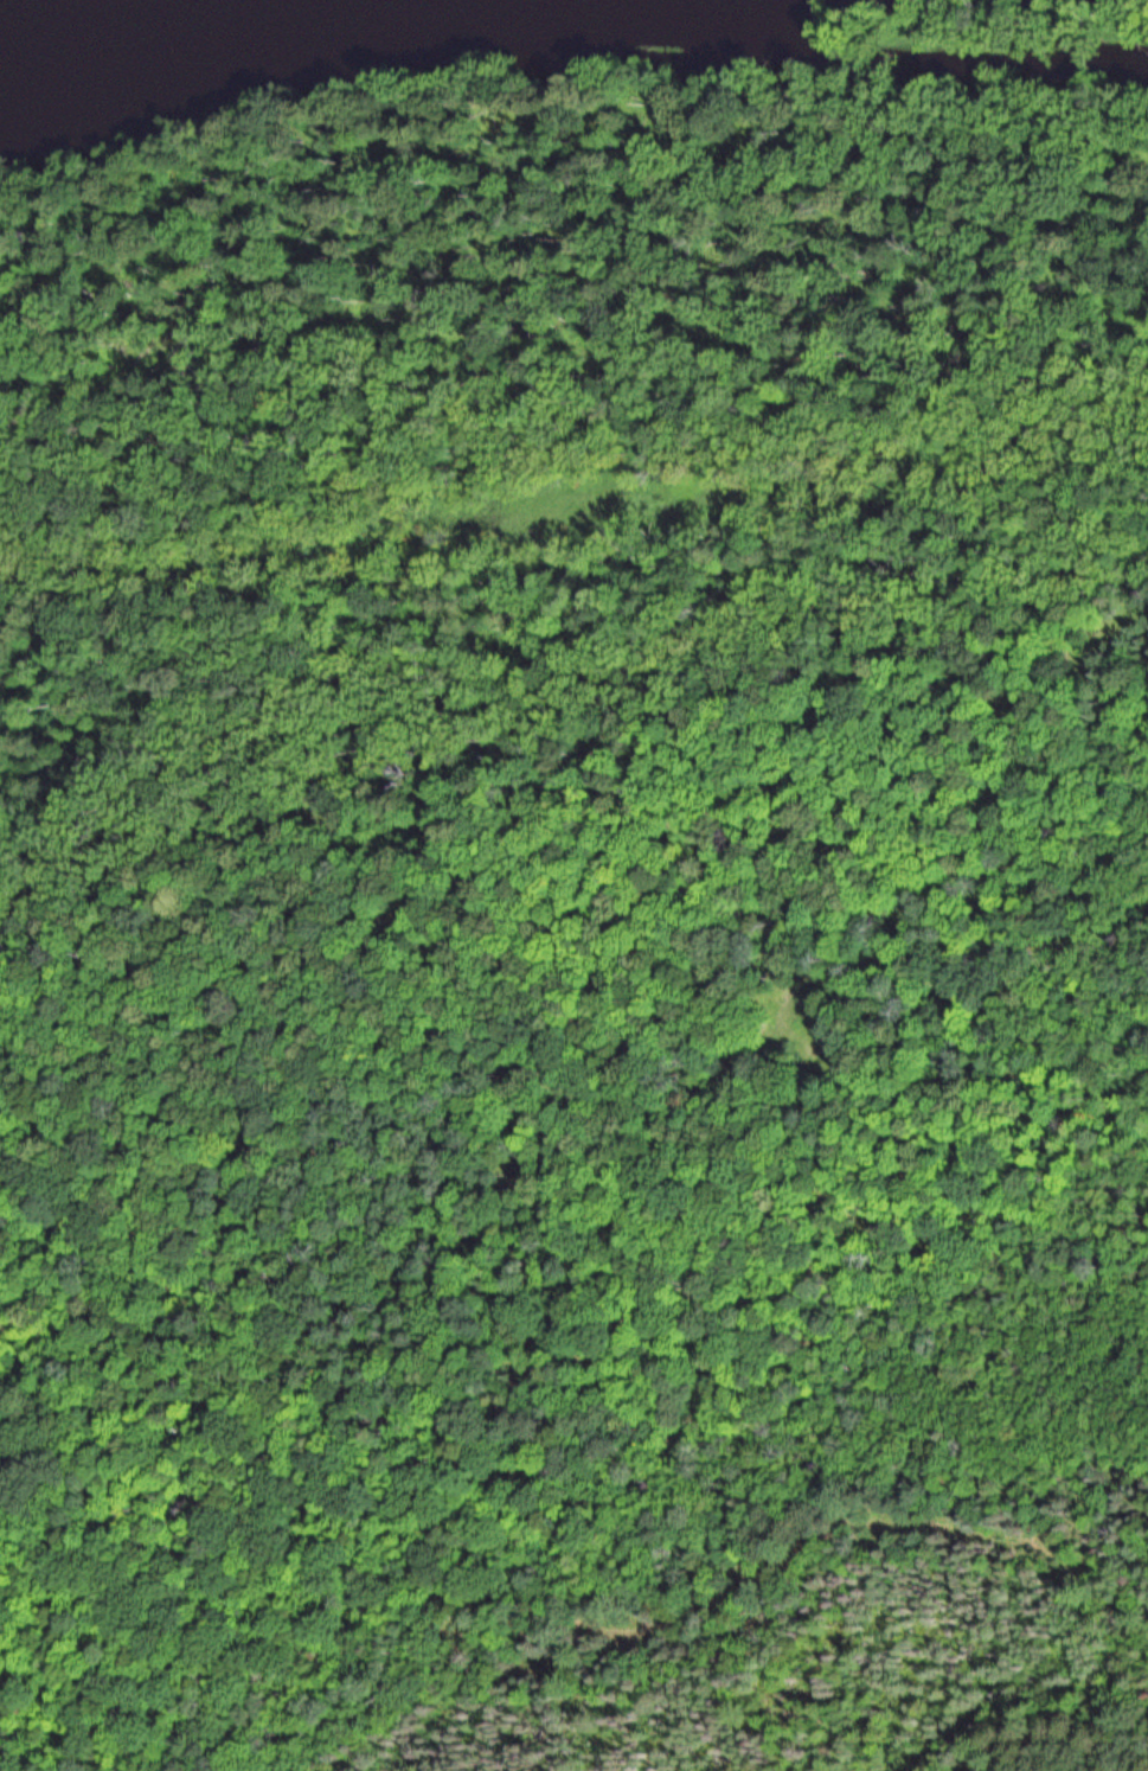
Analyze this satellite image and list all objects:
river: (64, 25)

